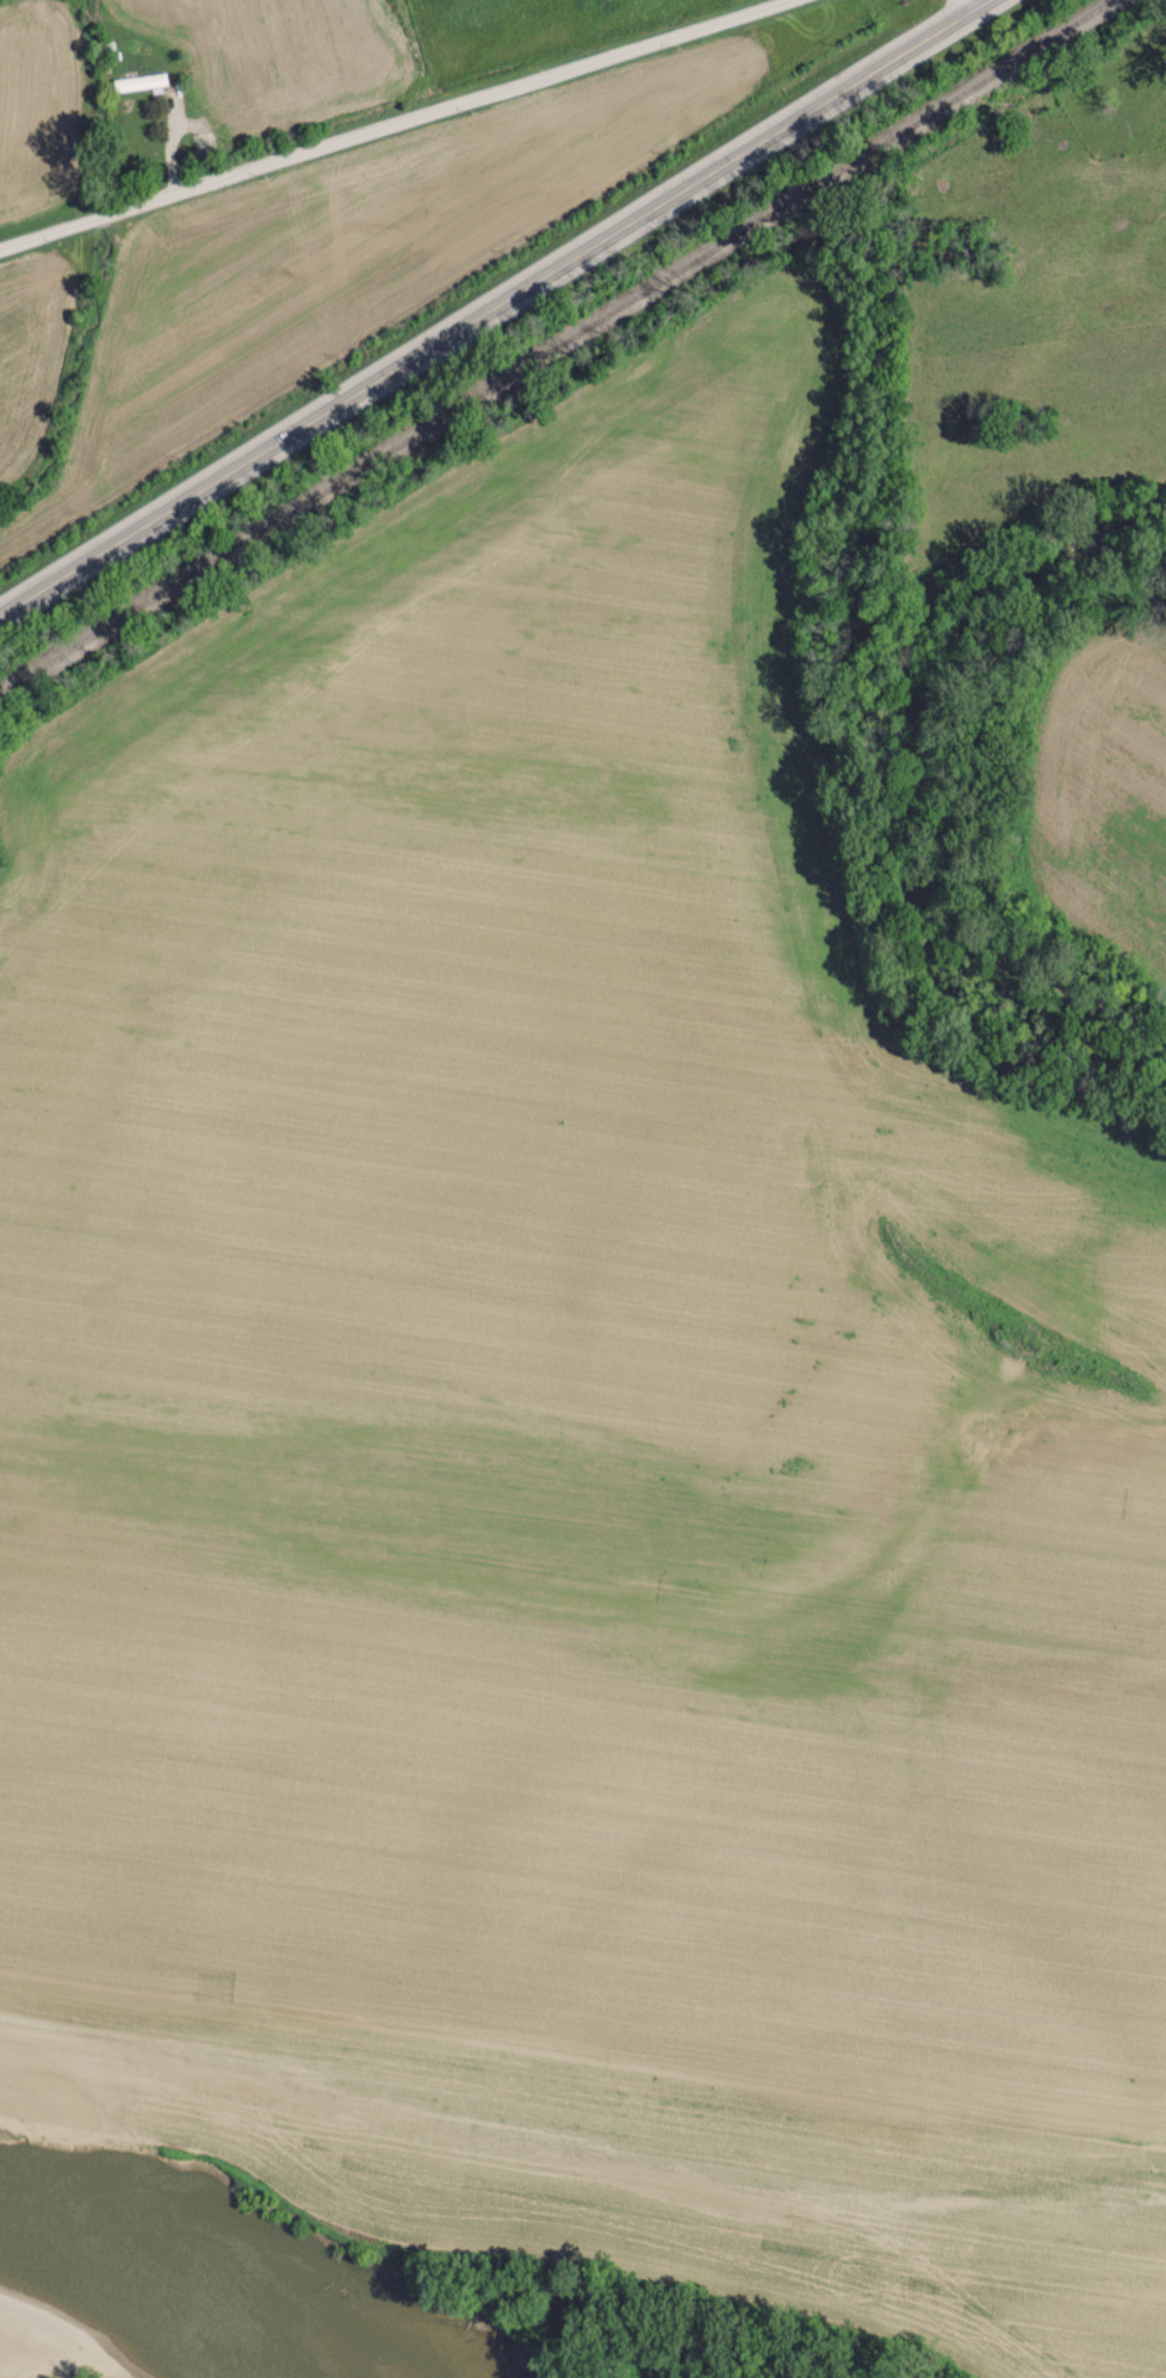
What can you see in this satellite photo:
road: (972, 1)
building: (139, 81)
road: (384, 120)
road: (489, 305)
railway: (557, 347)
river: (169, 2347)

